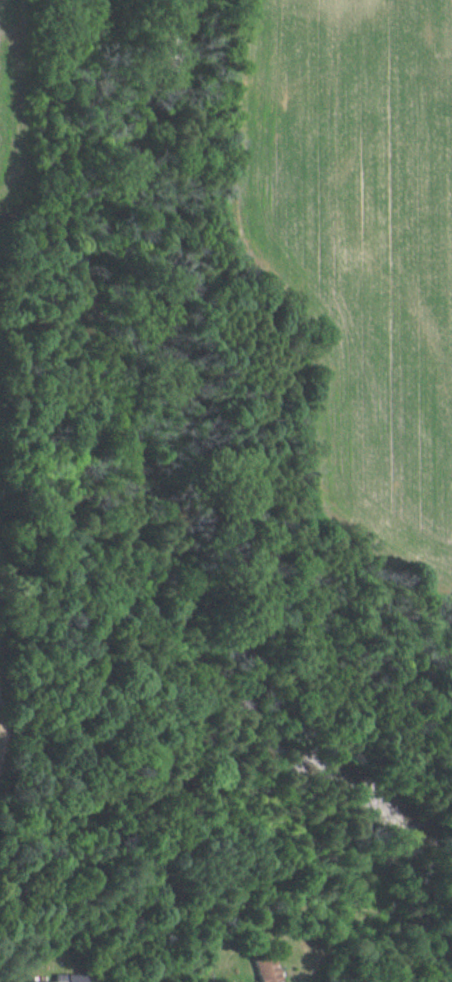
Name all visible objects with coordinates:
building: (266, 968)
building: (59, 978)
road: (102, 981)

